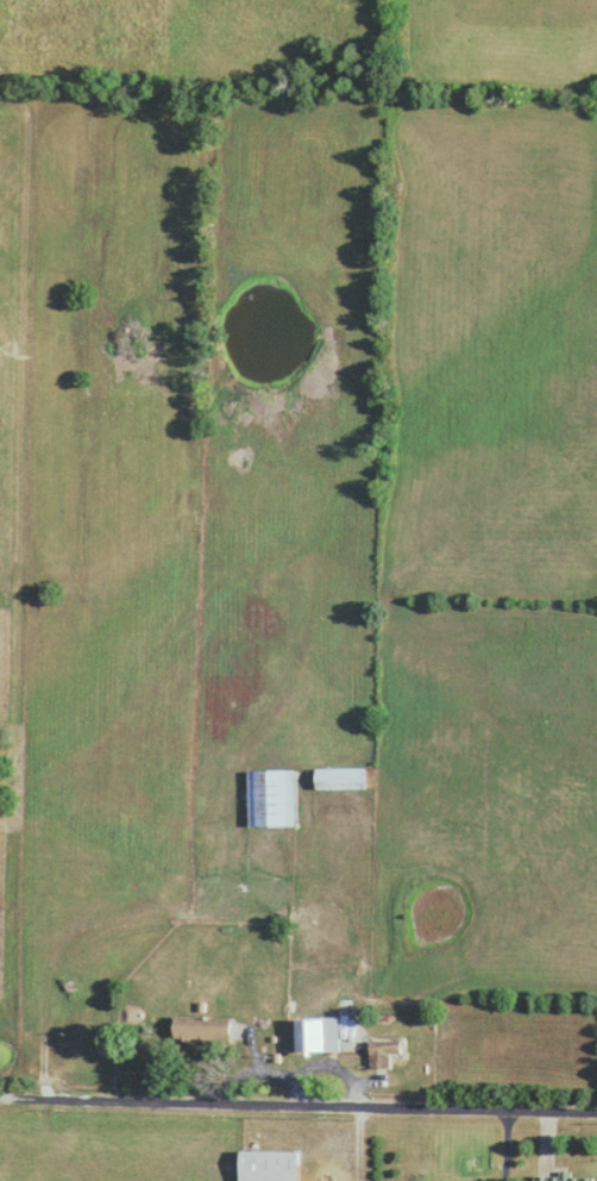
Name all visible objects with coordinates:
building: (338, 780)
building: (270, 799)
building: (200, 1030)
building: (316, 1036)
building: (382, 1054)
road: (298, 1106)
building: (268, 1166)
building: (561, 1179)

